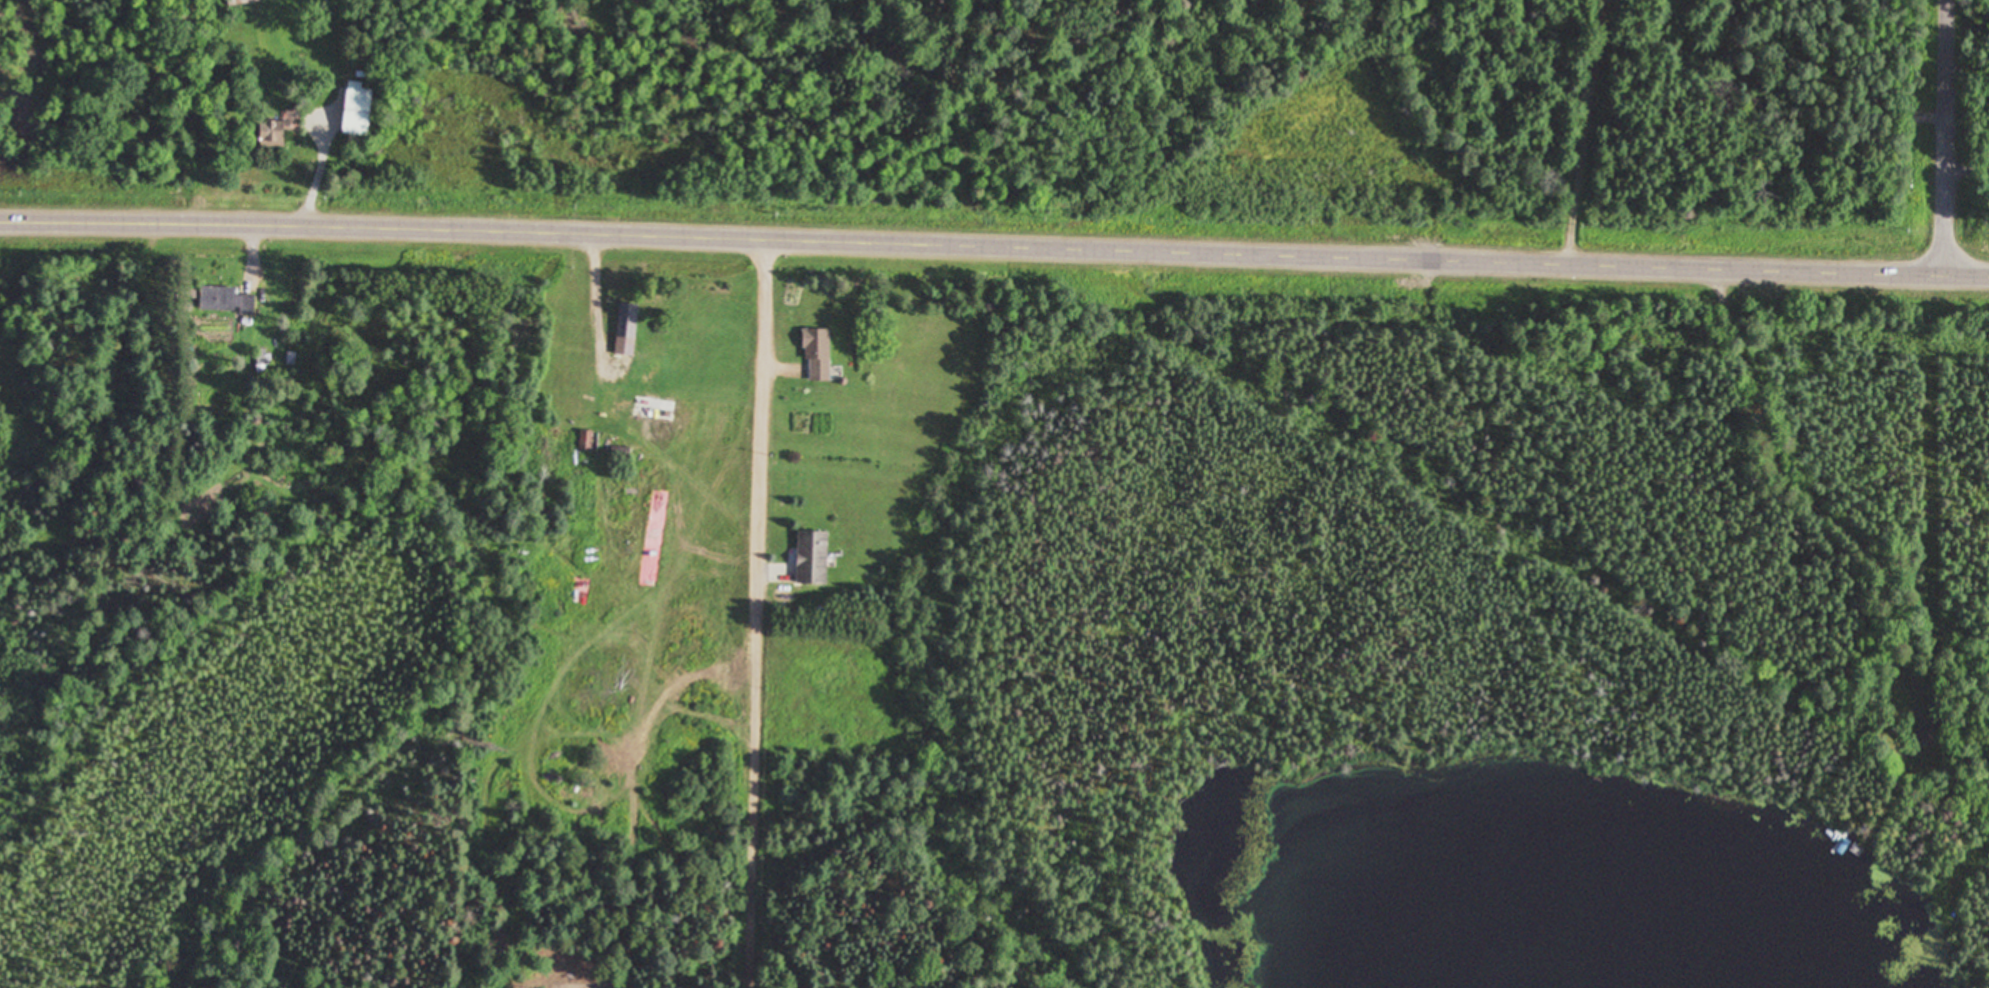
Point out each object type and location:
building: (242, 1)
building: (357, 108)
building: (274, 132)
road: (1950, 135)
road: (994, 242)
building: (225, 300)
building: (626, 329)
building: (817, 355)
building: (641, 372)
building: (654, 409)
building: (585, 446)
road: (1793, 488)
building: (812, 557)
road: (761, 611)
building: (1927, 732)
building: (498, 942)

